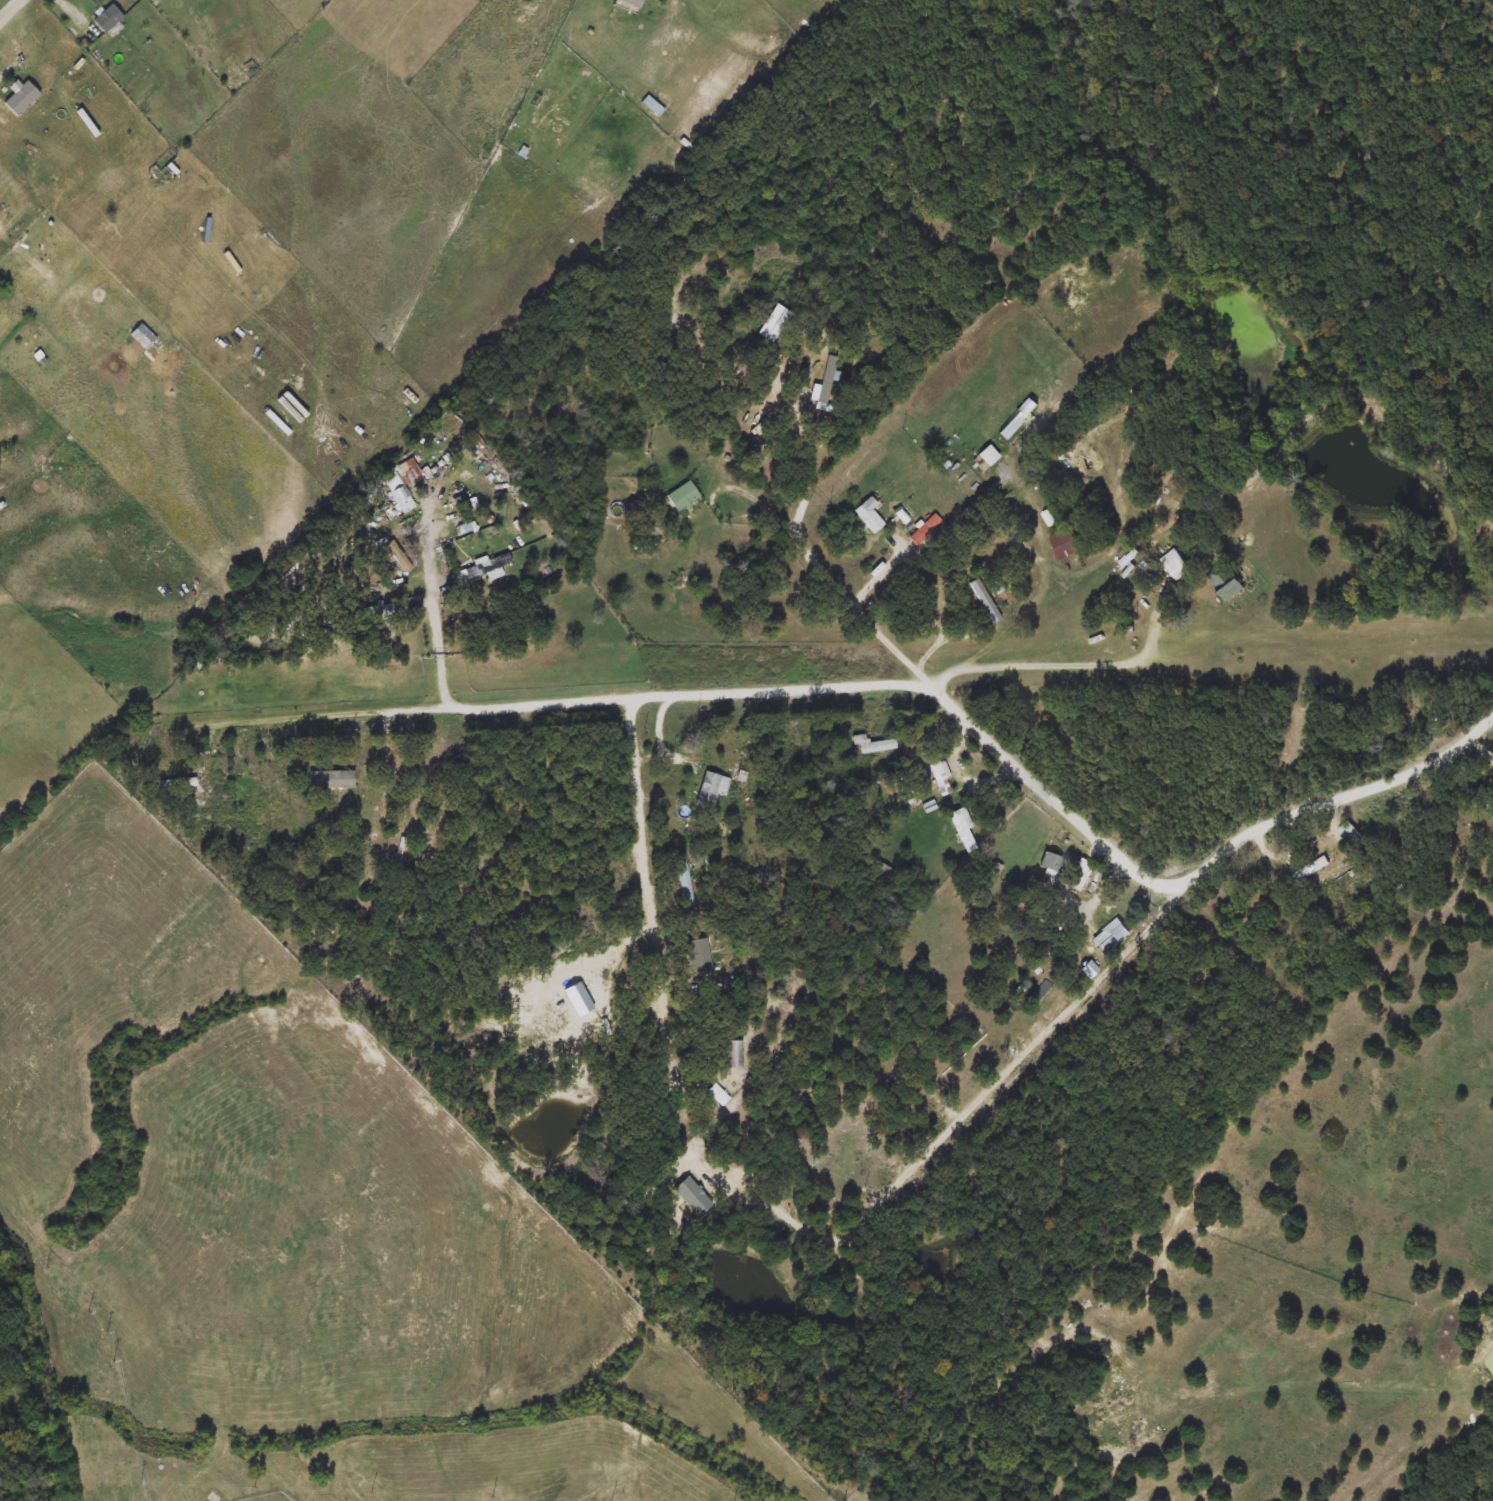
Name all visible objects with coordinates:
road: (804, 6)
road: (11, 11)
building: (107, 18)
building: (652, 106)
building: (774, 324)
building: (53, 362)
building: (397, 476)
building: (684, 496)
road: (760, 501)
building: (868, 517)
building: (1064, 544)
building: (480, 571)
building: (1223, 582)
building: (985, 601)
building: (384, 611)
road: (436, 640)
road: (904, 660)
road: (431, 709)
road: (1490, 727)
road: (657, 735)
building: (870, 745)
building: (387, 778)
building: (940, 778)
building: (330, 779)
building: (169, 784)
building: (708, 790)
road: (1450, 797)
road: (1260, 807)
building: (1492, 813)
road: (1072, 815)
building: (961, 829)
building: (1352, 836)
road: (1096, 846)
building: (1052, 865)
building: (1310, 870)
building: (1081, 875)
building: (682, 880)
road: (651, 916)
building: (1109, 937)
building: (731, 1055)
road: (976, 1107)

